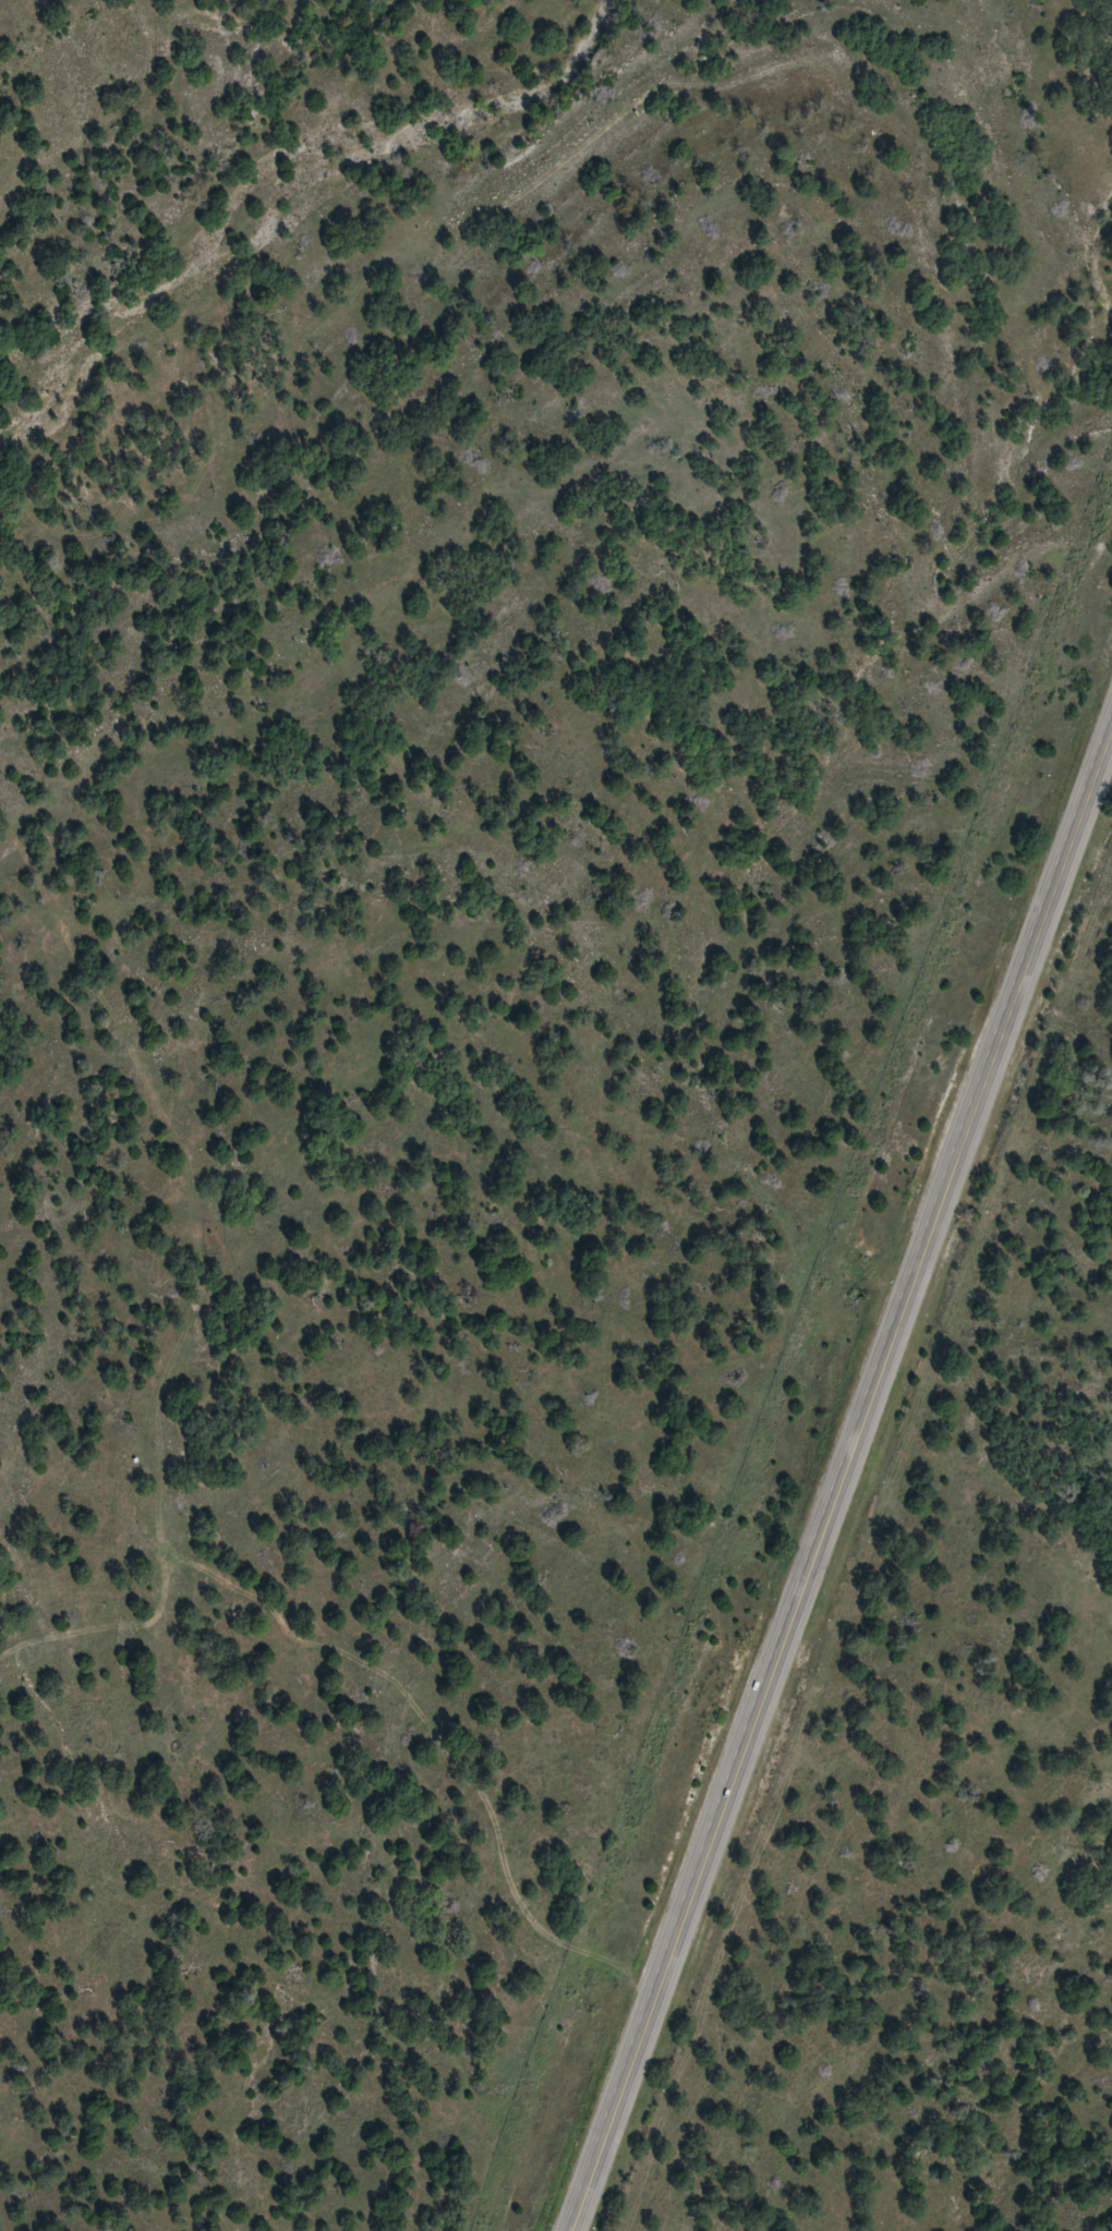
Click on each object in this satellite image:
road: (839, 1472)

